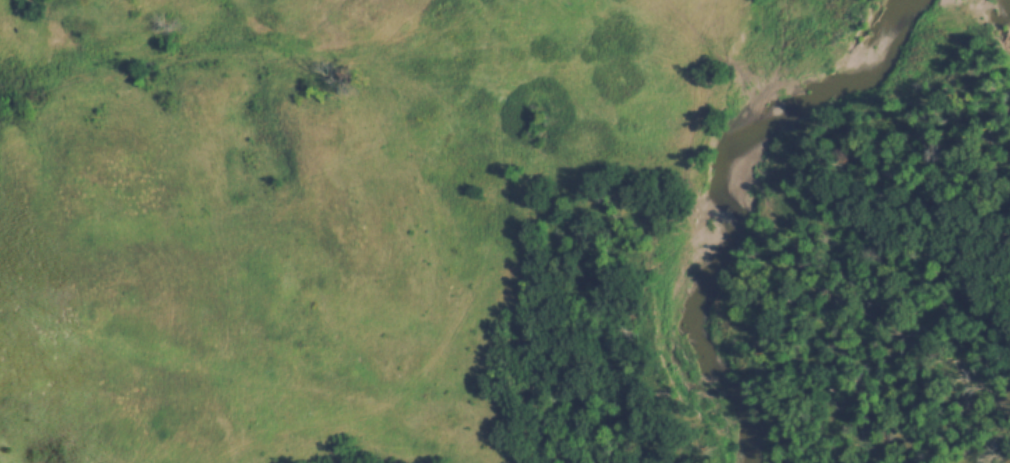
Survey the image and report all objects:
river: (720, 180)

